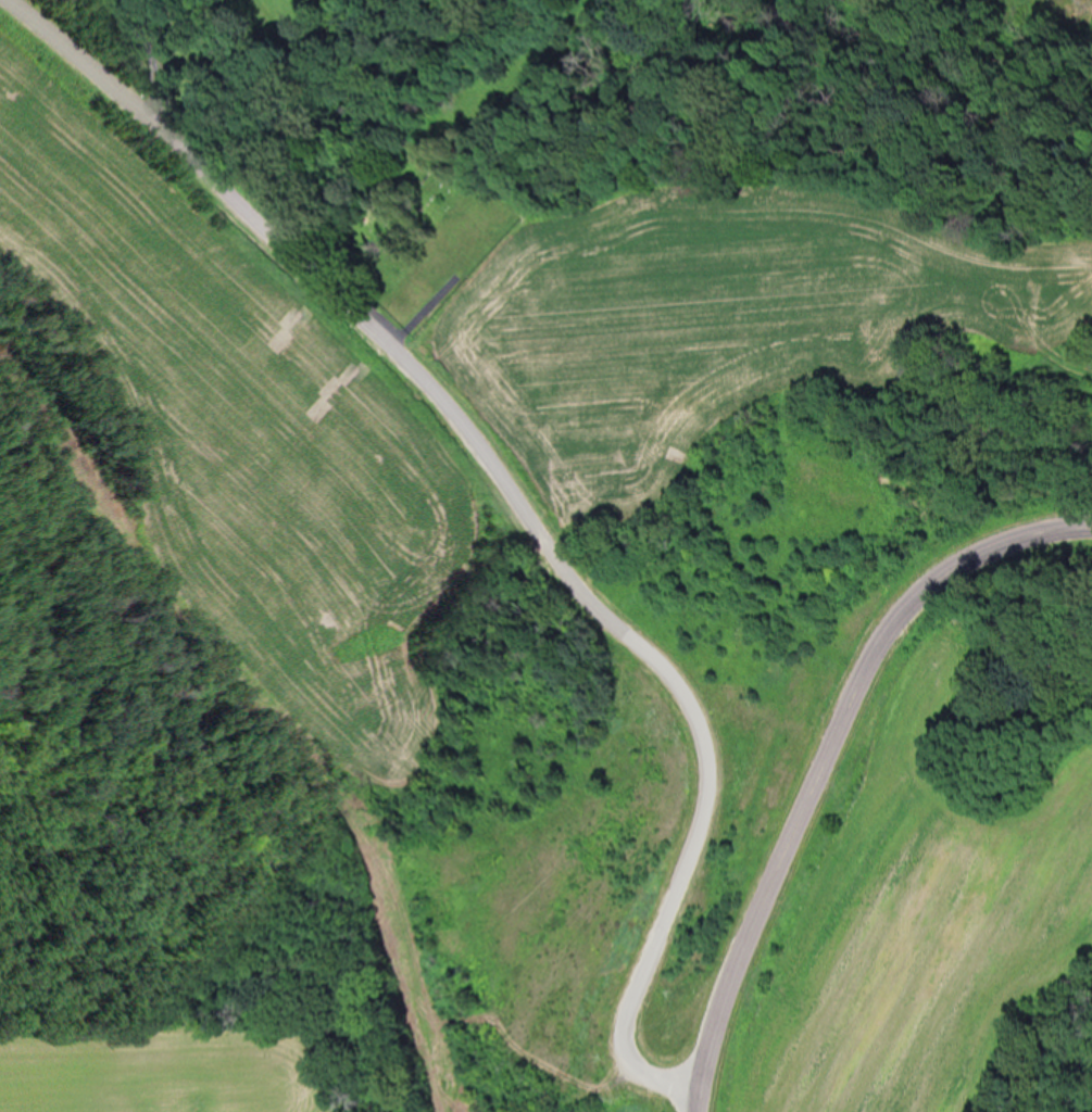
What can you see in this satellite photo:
road: (514, 516)
road: (820, 754)

